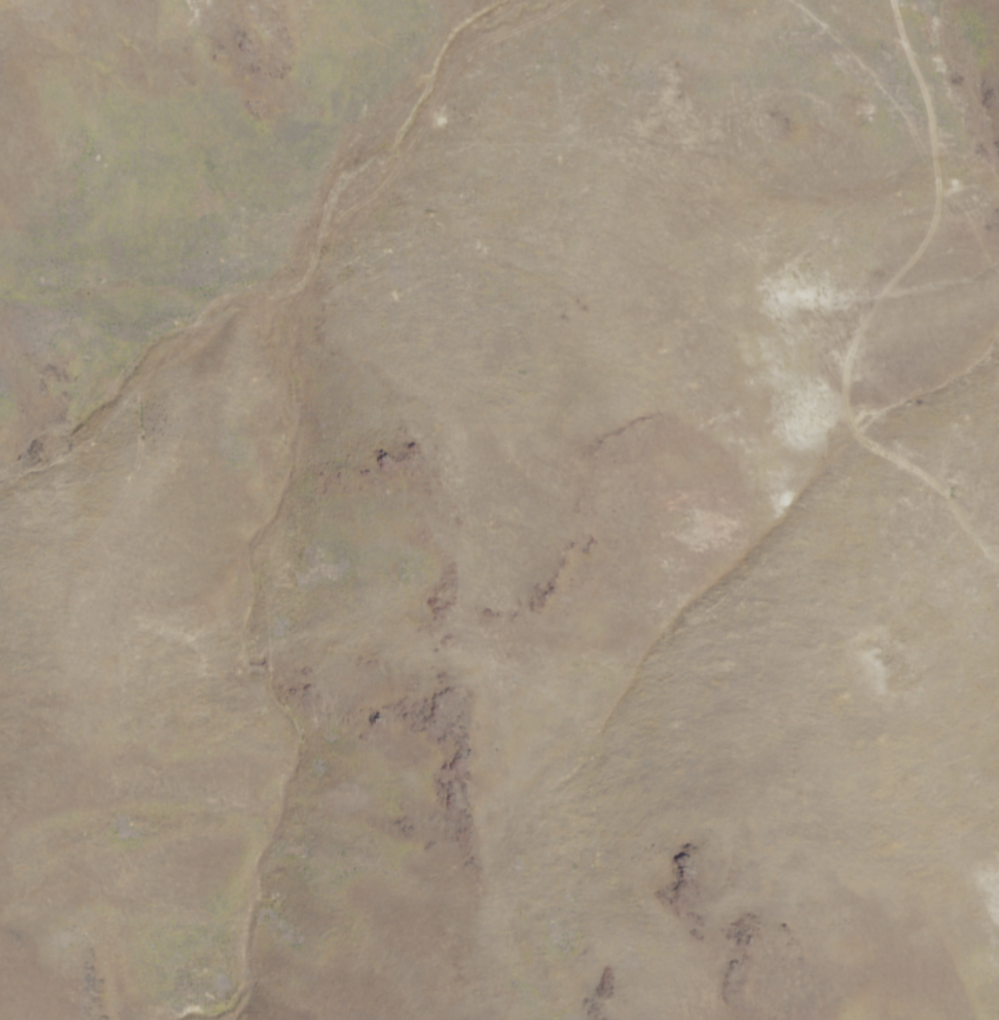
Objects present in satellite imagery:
road: (871, 304)

